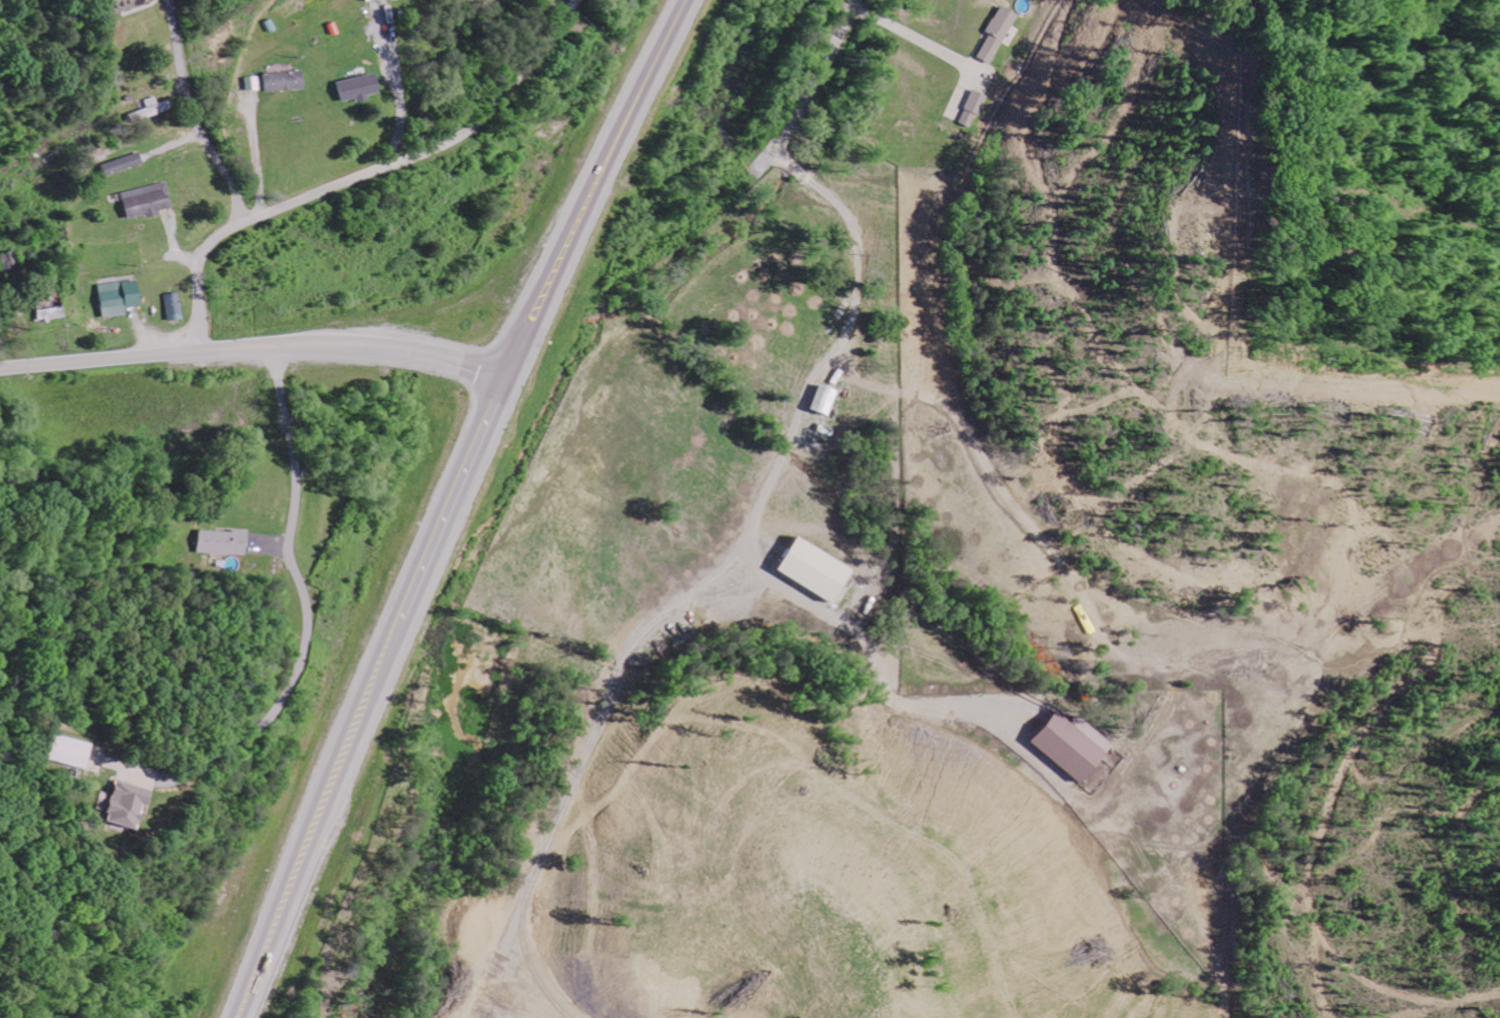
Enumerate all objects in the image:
building: (362, 0)
building: (120, 4)
building: (996, 33)
building: (281, 80)
building: (350, 87)
road: (812, 90)
building: (968, 108)
road: (461, 134)
building: (142, 201)
road: (208, 249)
building: (116, 296)
building: (48, 312)
road: (253, 350)
building: (817, 398)
road: (452, 504)
building: (219, 541)
building: (803, 567)
building: (1064, 743)
building: (67, 750)
building: (119, 803)

